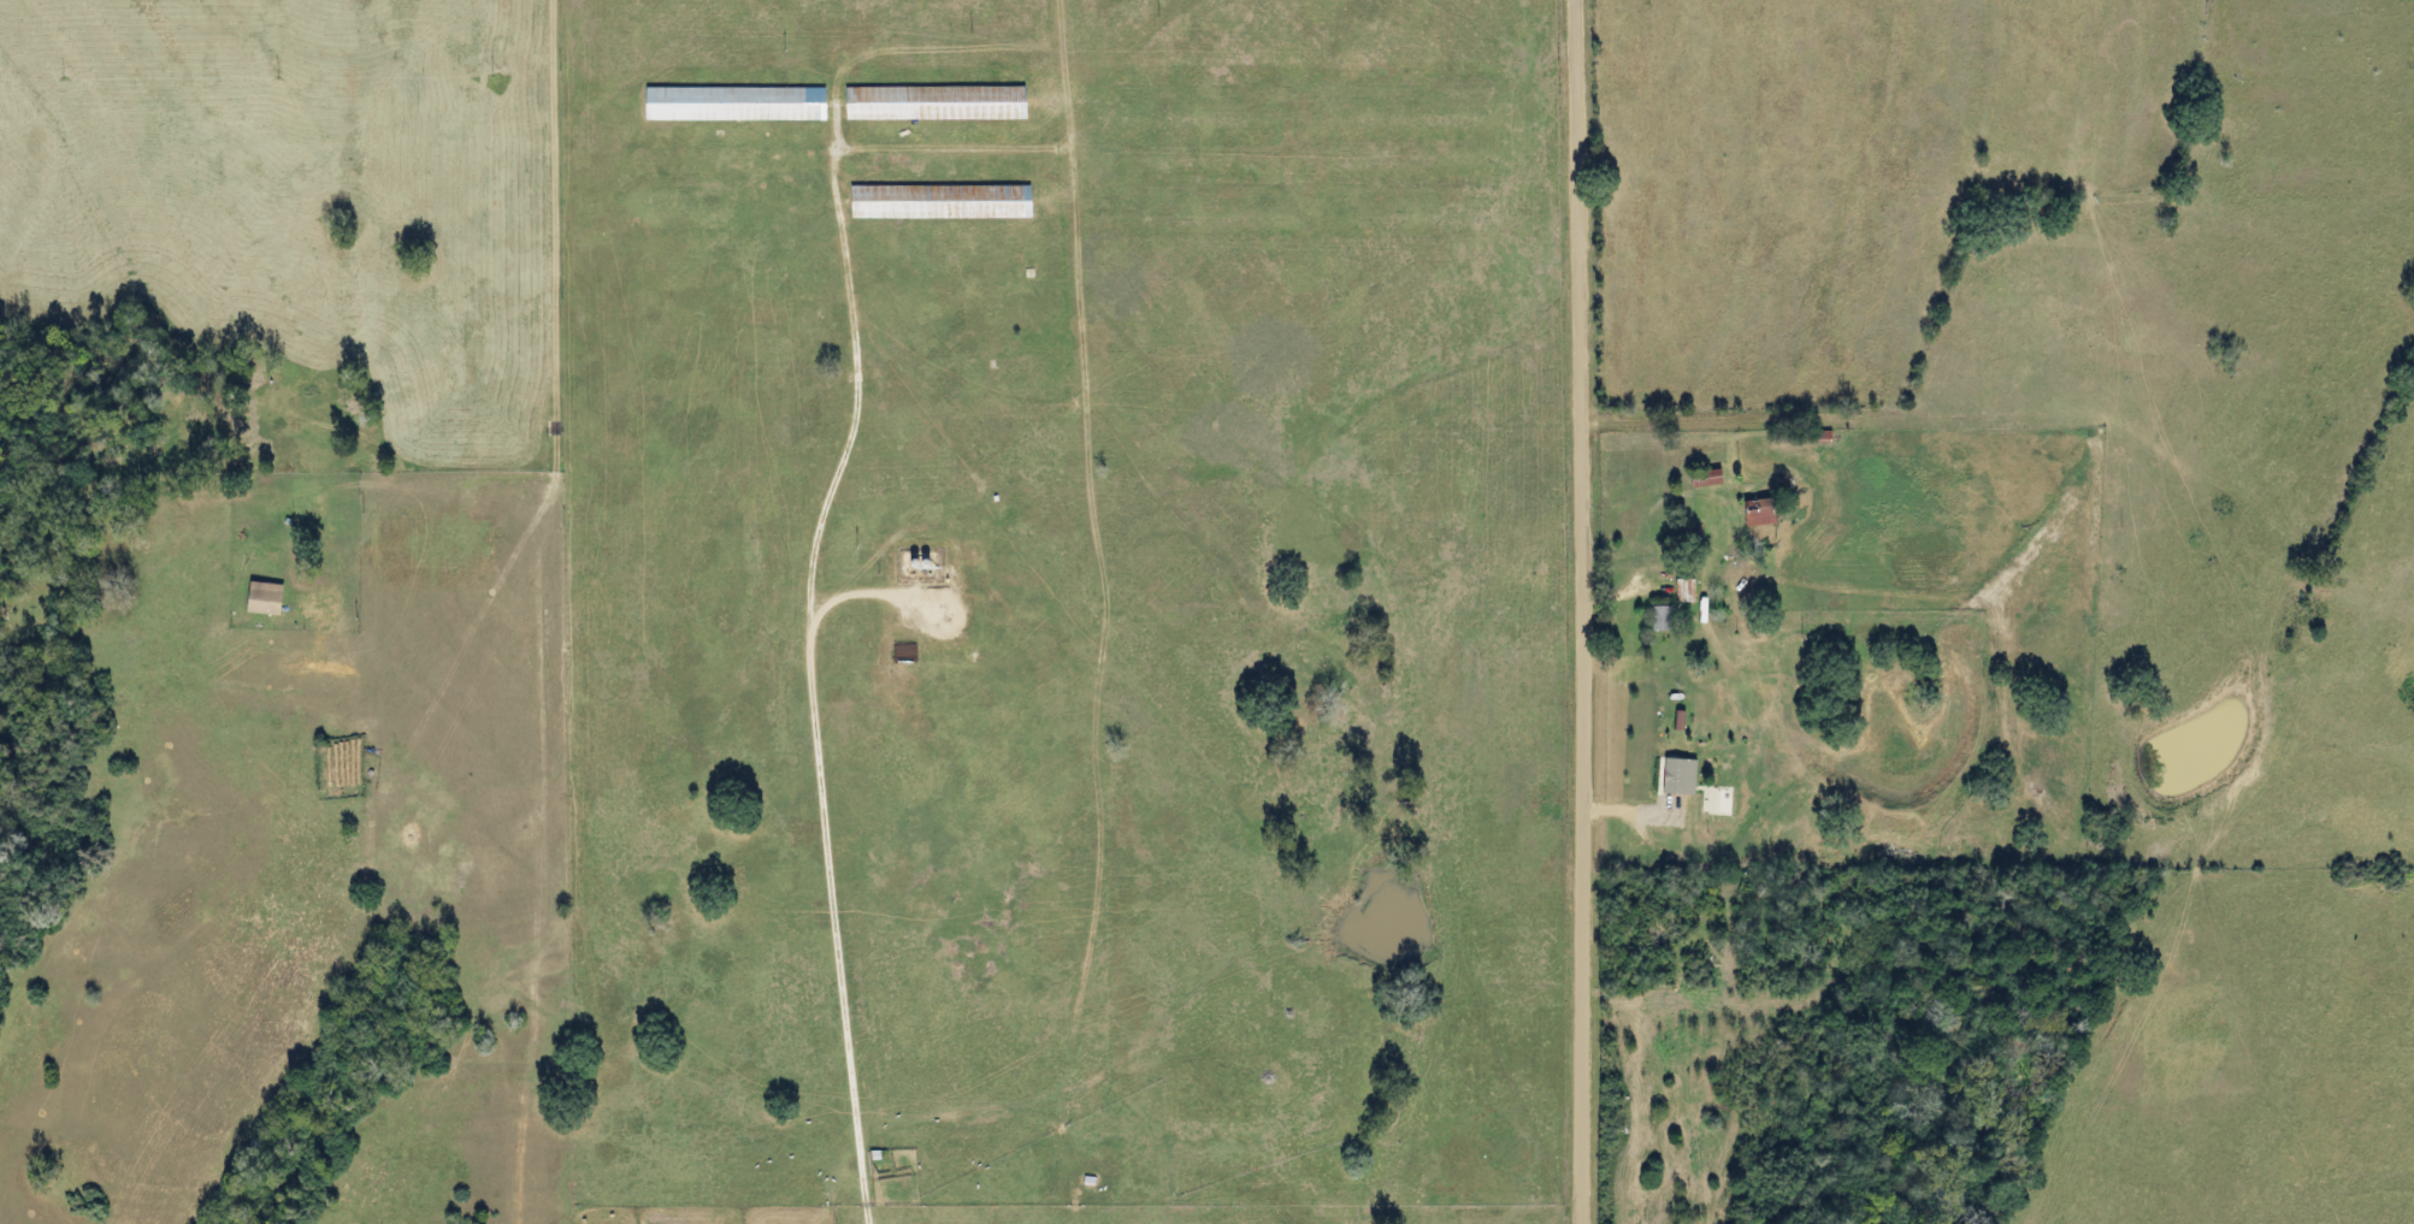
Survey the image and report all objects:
building: (927, 102)
building: (727, 104)
building: (932, 201)
road: (539, 477)
building: (1698, 478)
building: (1749, 512)
building: (1678, 591)
building: (255, 598)
building: (313, 607)
road: (1577, 611)
building: (1654, 619)
road: (805, 684)

